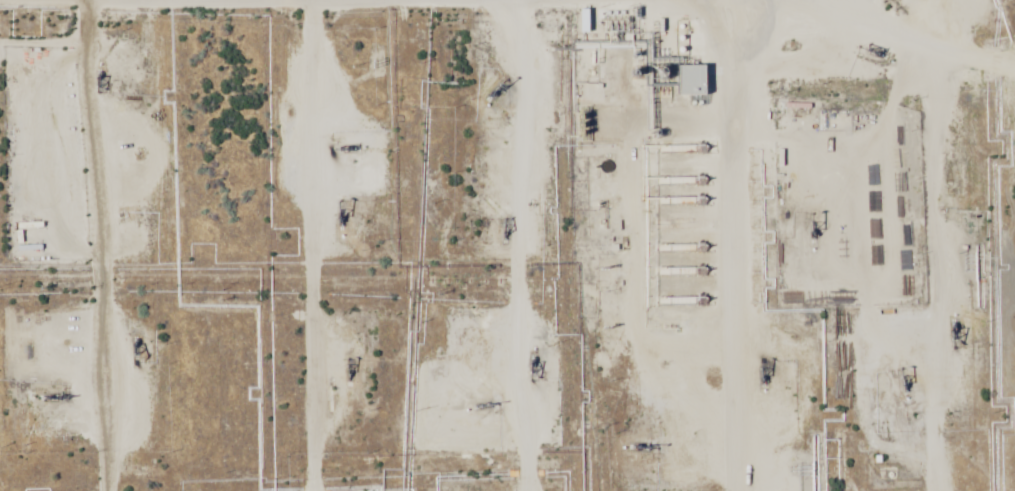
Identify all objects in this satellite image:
road: (458, 22)
building: (692, 82)
road: (961, 118)
building: (899, 192)
road: (898, 243)
road: (83, 245)
road: (307, 245)
road: (504, 245)
road: (737, 245)

